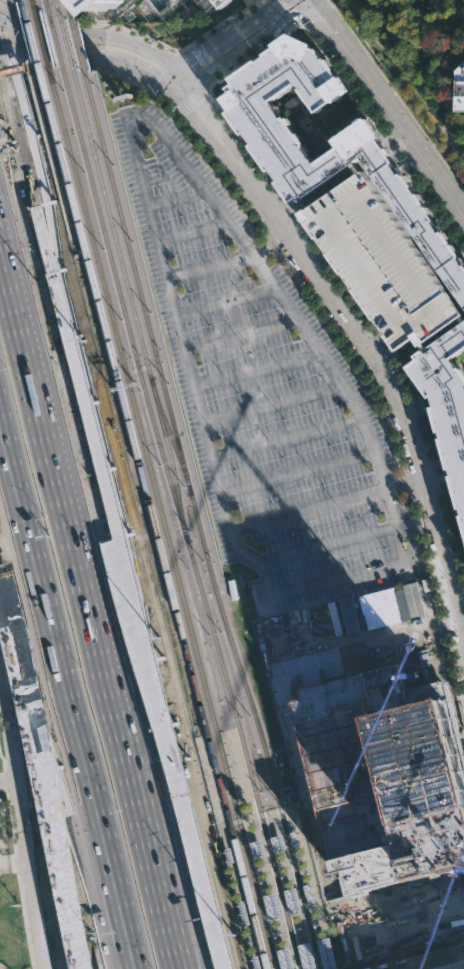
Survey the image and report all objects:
railway: (23, 1)
road: (260, 1)
building: (220, 2)
railway: (32, 3)
building: (107, 5)
railway: (46, 8)
railway: (56, 9)
railway: (67, 10)
road: (290, 11)
road: (314, 11)
road: (2, 24)
railway: (31, 33)
road: (91, 33)
road: (138, 33)
road: (230, 34)
traffic signals: (5, 36)
railway: (41, 36)
railway: (56, 42)
railway: (65, 43)
road: (245, 45)
railway: (77, 46)
road: (14, 50)
road: (250, 52)
road: (93, 58)
traffic signals: (181, 67)
road: (408, 75)
road: (174, 76)
road: (182, 78)
traffic signals: (167, 85)
traffic signals: (184, 90)
building: (459, 95)
road: (395, 96)
road: (191, 101)
road: (389, 108)
road: (24, 113)
road: (145, 120)
road: (383, 133)
building: (297, 182)
road: (173, 196)
railway: (111, 224)
road: (190, 229)
road: (29, 246)
building: (380, 261)
parking garage: (380, 261)
road: (228, 264)
road: (225, 302)
road: (362, 313)
road: (327, 322)
road: (241, 335)
road: (360, 338)
road: (379, 349)
road: (256, 368)
road: (84, 389)
parking lot: (264, 391)
power tower: (97, 396)
road: (271, 402)
building: (444, 407)
building: (299, 429)
railway: (170, 437)
road: (286, 438)
railway: (171, 461)
road: (298, 471)
road: (329, 503)
railway: (154, 516)
road: (103, 517)
railway: (163, 517)
railway: (180, 519)
railway: (197, 521)
road: (328, 544)
road: (124, 579)
road: (336, 579)
road: (5, 585)
road: (96, 600)
building: (383, 608)
road: (2, 677)
road: (462, 698)
road: (70, 700)
power tower: (180, 728)
railway: (230, 729)
railway: (200, 736)
building: (386, 773)
road: (9, 777)
road: (64, 781)
road: (47, 788)
road: (289, 805)
road: (289, 808)
railway: (290, 809)
road: (24, 812)
road: (270, 813)
railway: (272, 814)
road: (234, 820)
building: (294, 836)
building: (277, 840)
road: (197, 846)
building: (257, 846)
building: (229, 853)
road: (15, 861)
building: (309, 894)
building: (291, 898)
building: (272, 904)
building: (243, 911)
building: (326, 952)
building: (306, 955)
road: (316, 955)
building: (285, 958)
road: (297, 960)
road: (429, 960)
building: (256, 961)
building: (448, 965)
parking garage: (448, 965)
road: (271, 967)
building: (95, 968)

